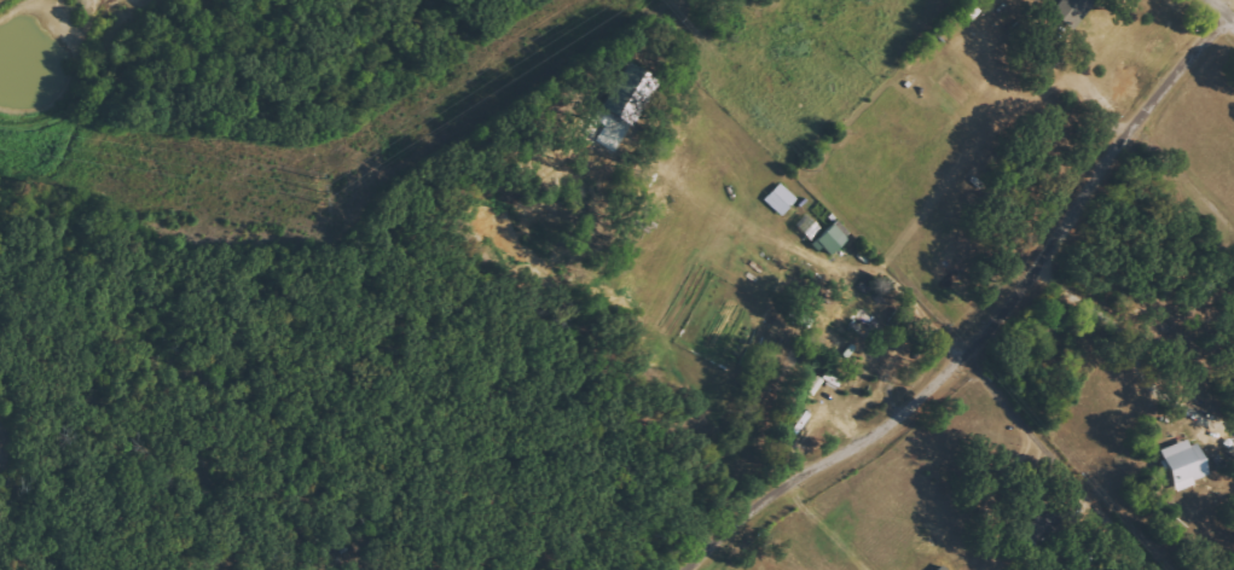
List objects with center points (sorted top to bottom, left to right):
building: (1074, 10)
road: (1227, 18)
road: (1215, 19)
building: (632, 87)
power tower: (315, 182)
building: (781, 199)
building: (833, 238)
road: (795, 246)
road: (980, 314)
road: (1014, 409)
building: (1187, 464)
road: (829, 535)
building: (943, 568)

